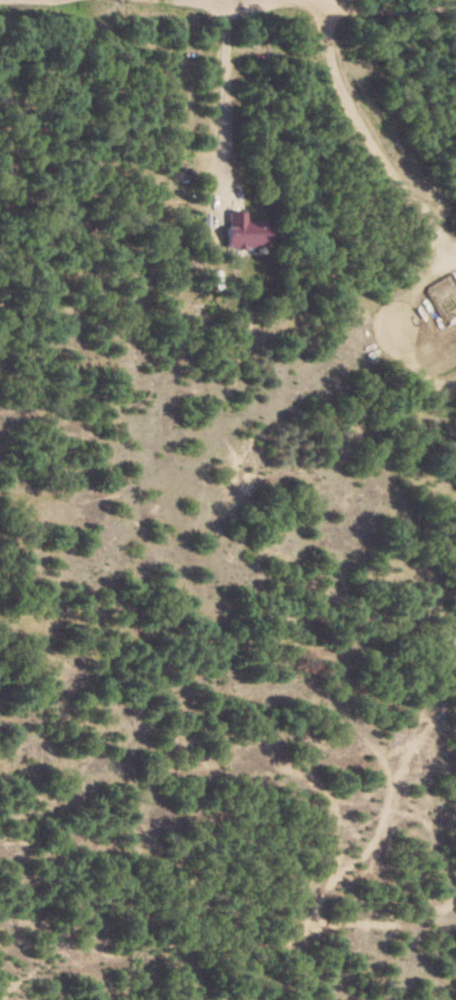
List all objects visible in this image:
road: (332, 1)
road: (226, 86)
road: (368, 133)
building: (244, 234)

